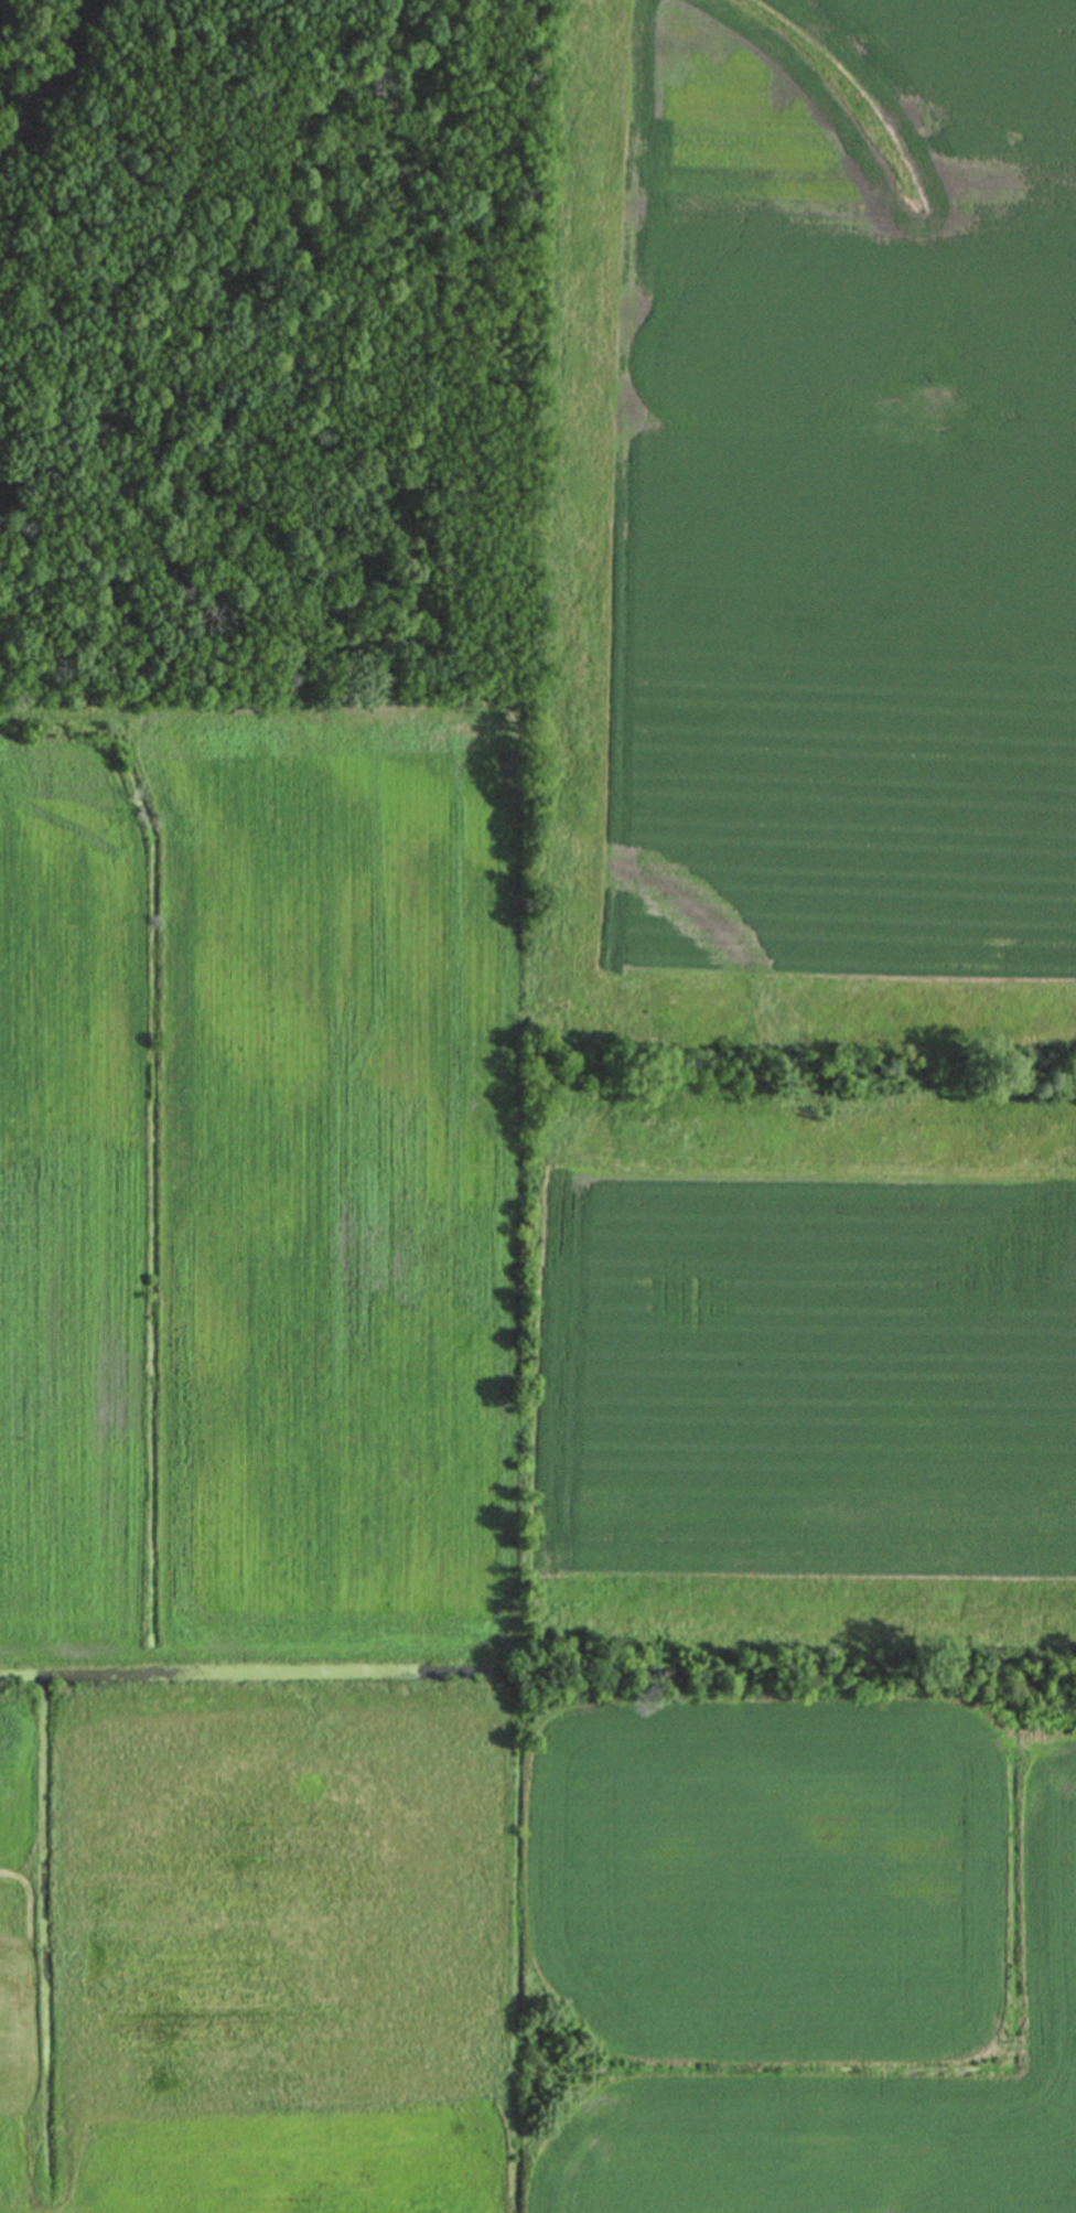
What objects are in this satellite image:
river: (50, 75)

